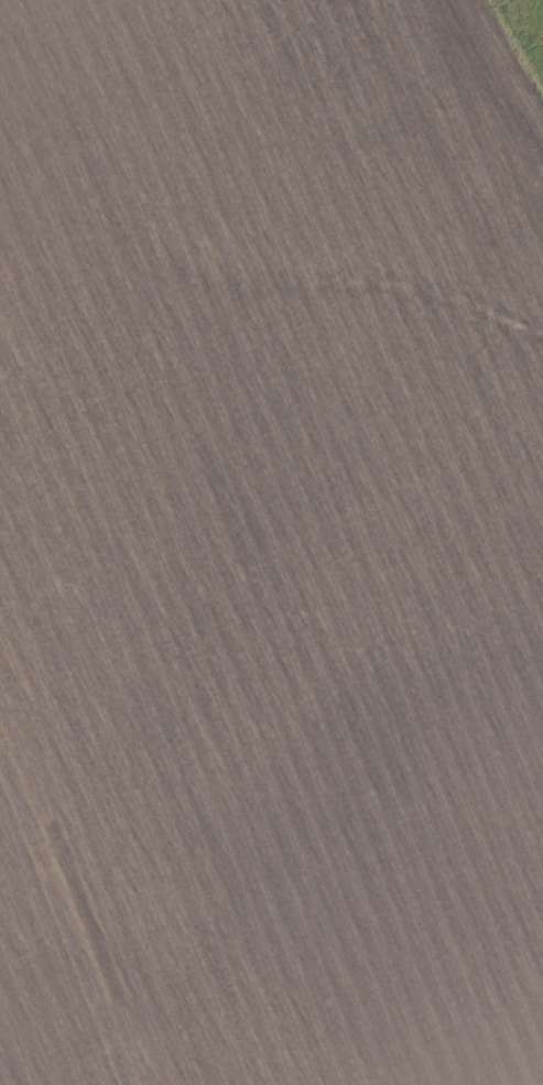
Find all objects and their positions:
road: (93, 140)

